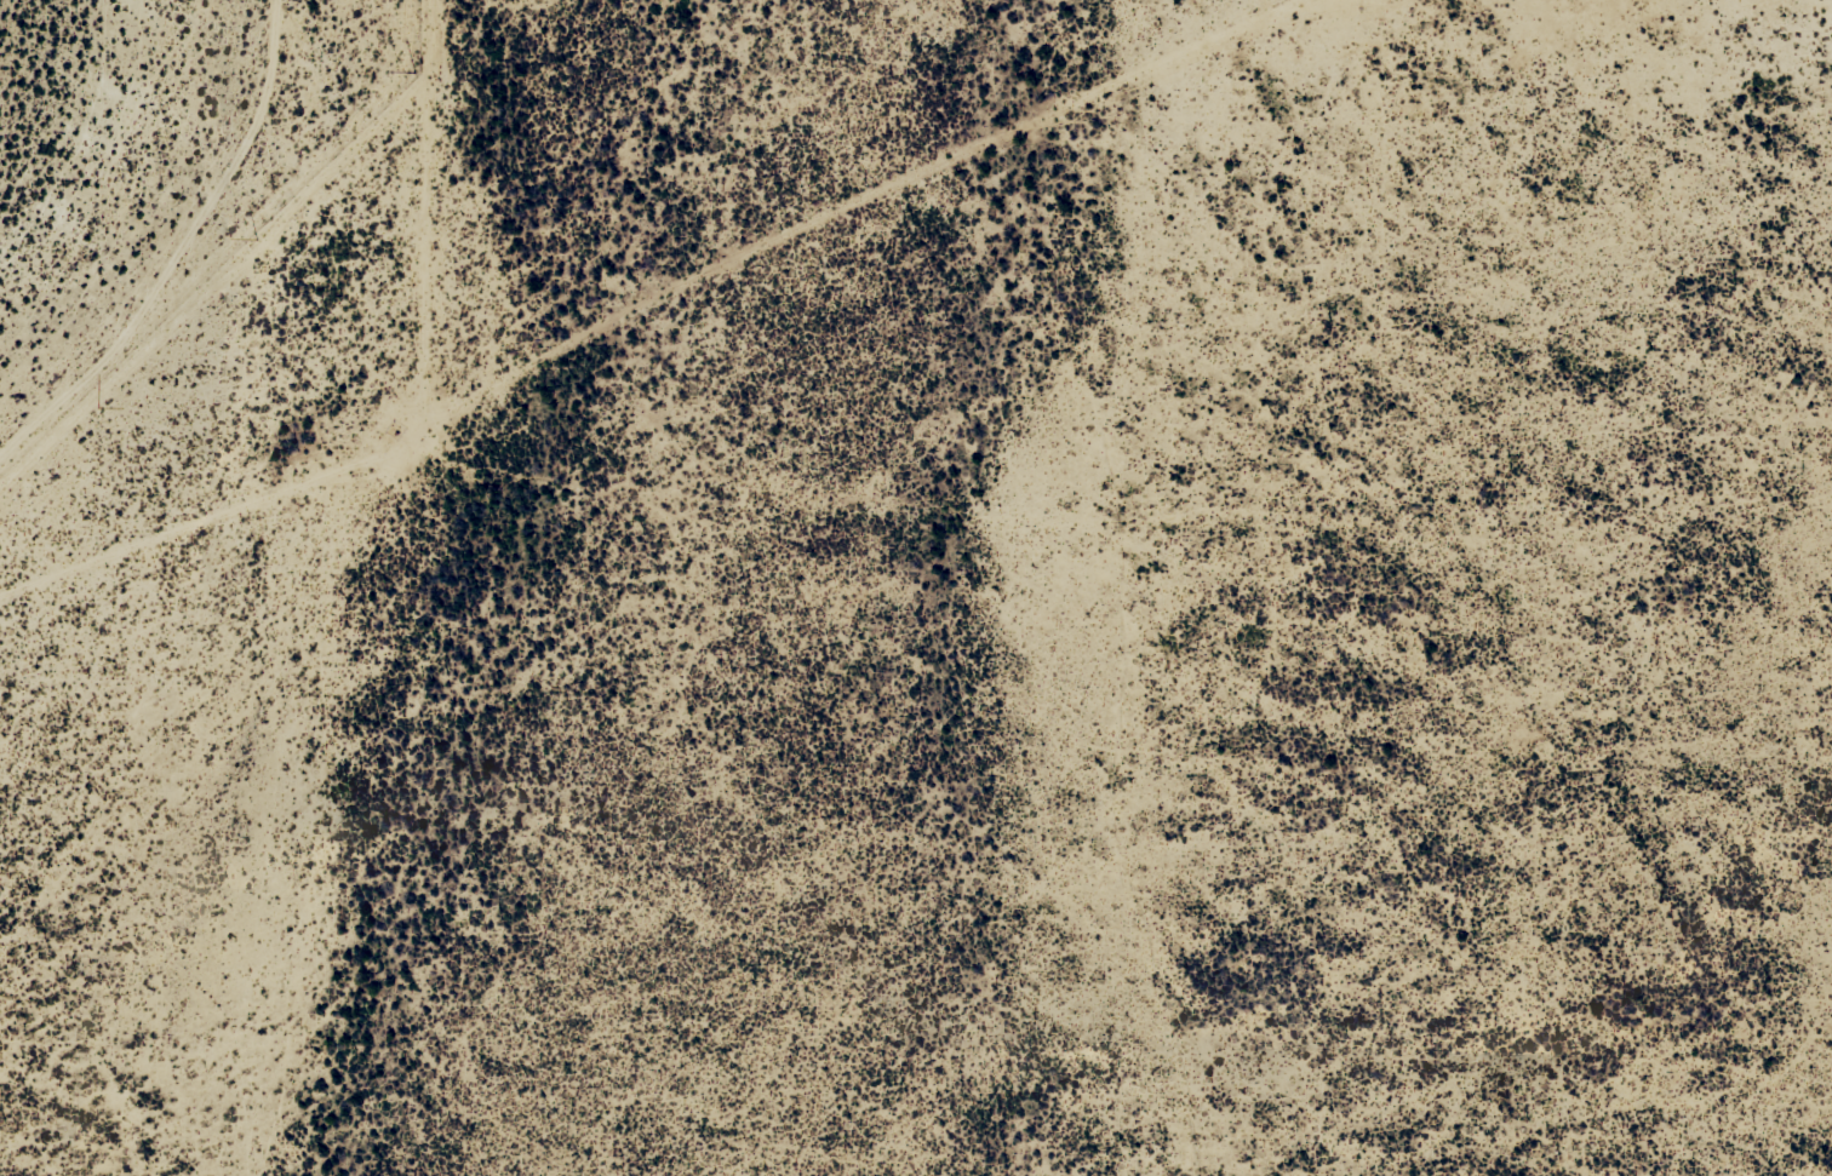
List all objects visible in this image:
power tower: (417, 70)
power tower: (256, 241)
power tower: (101, 406)

